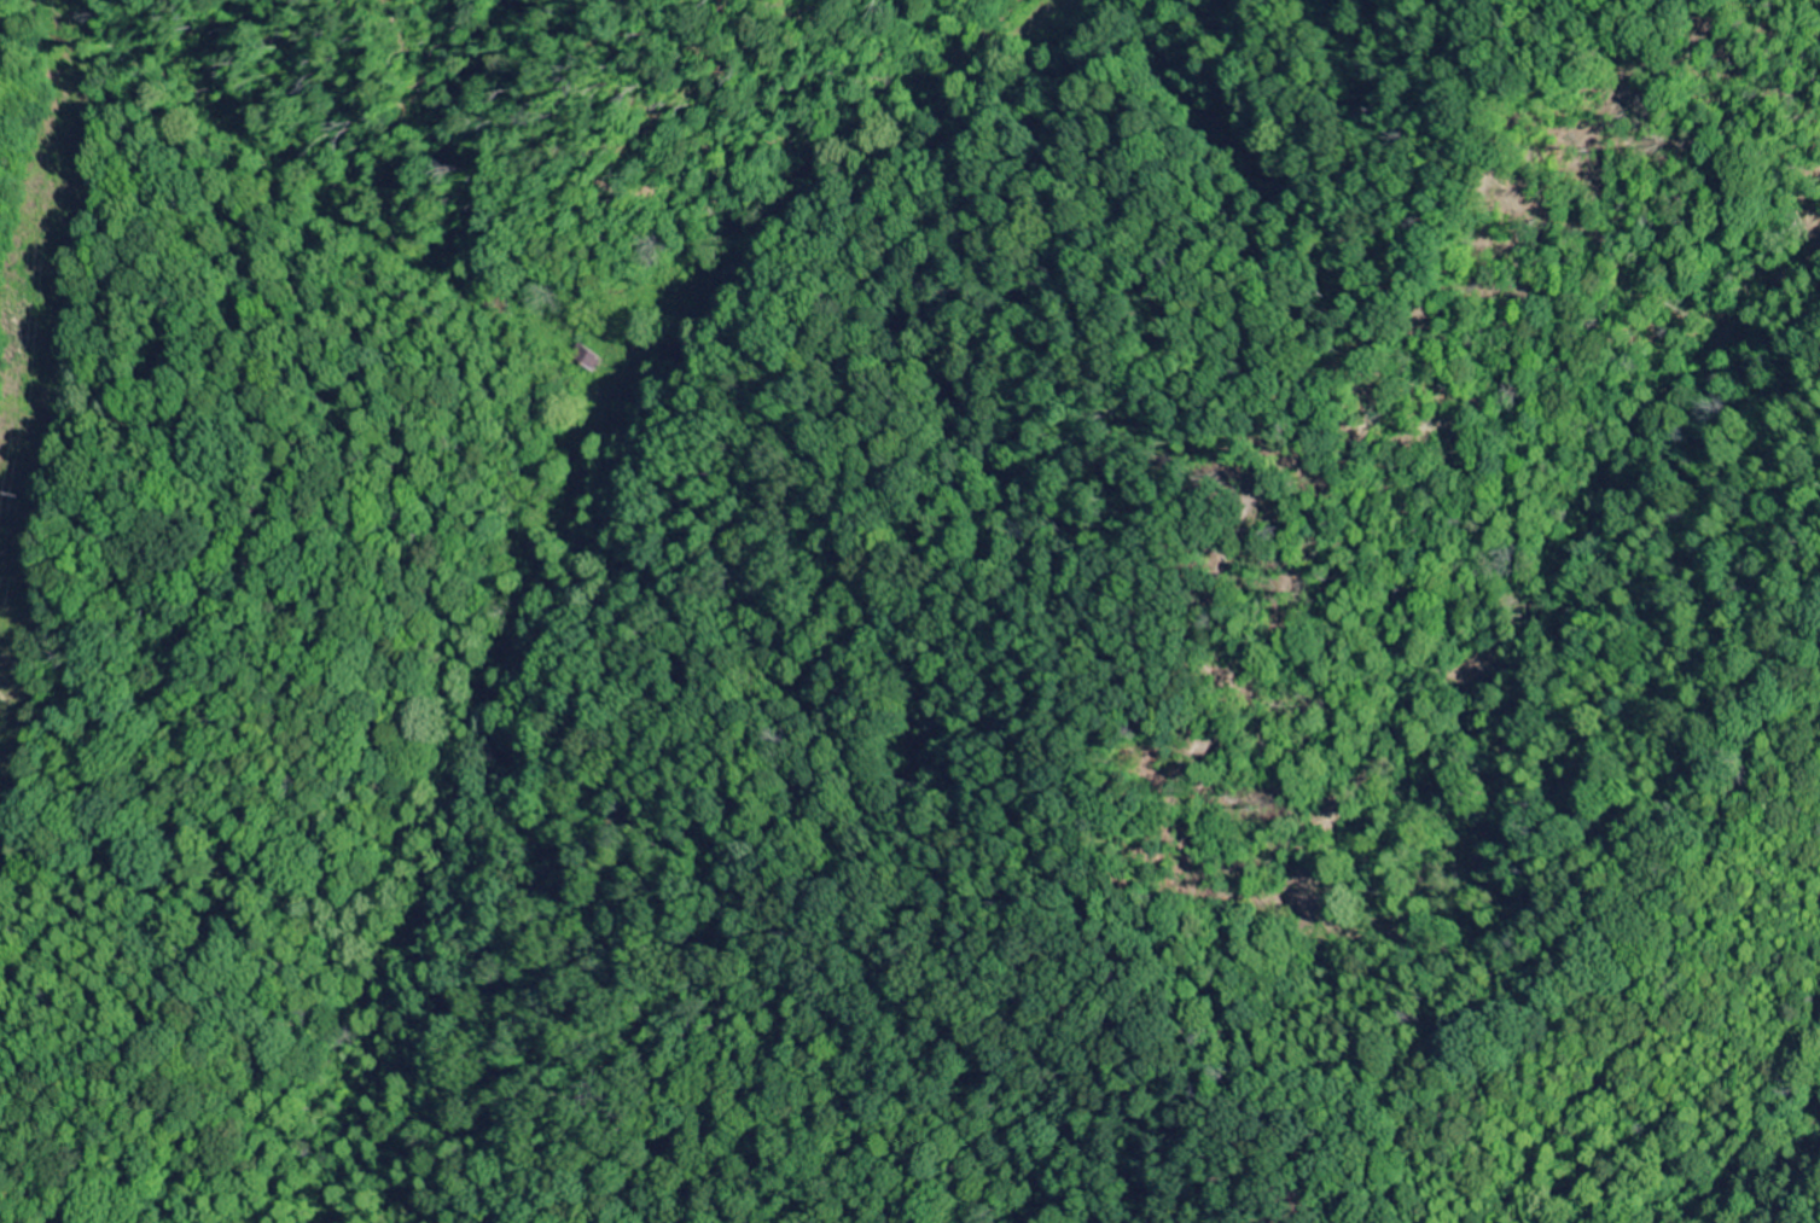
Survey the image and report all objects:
building: (592, 361)
power tower: (1, 493)

